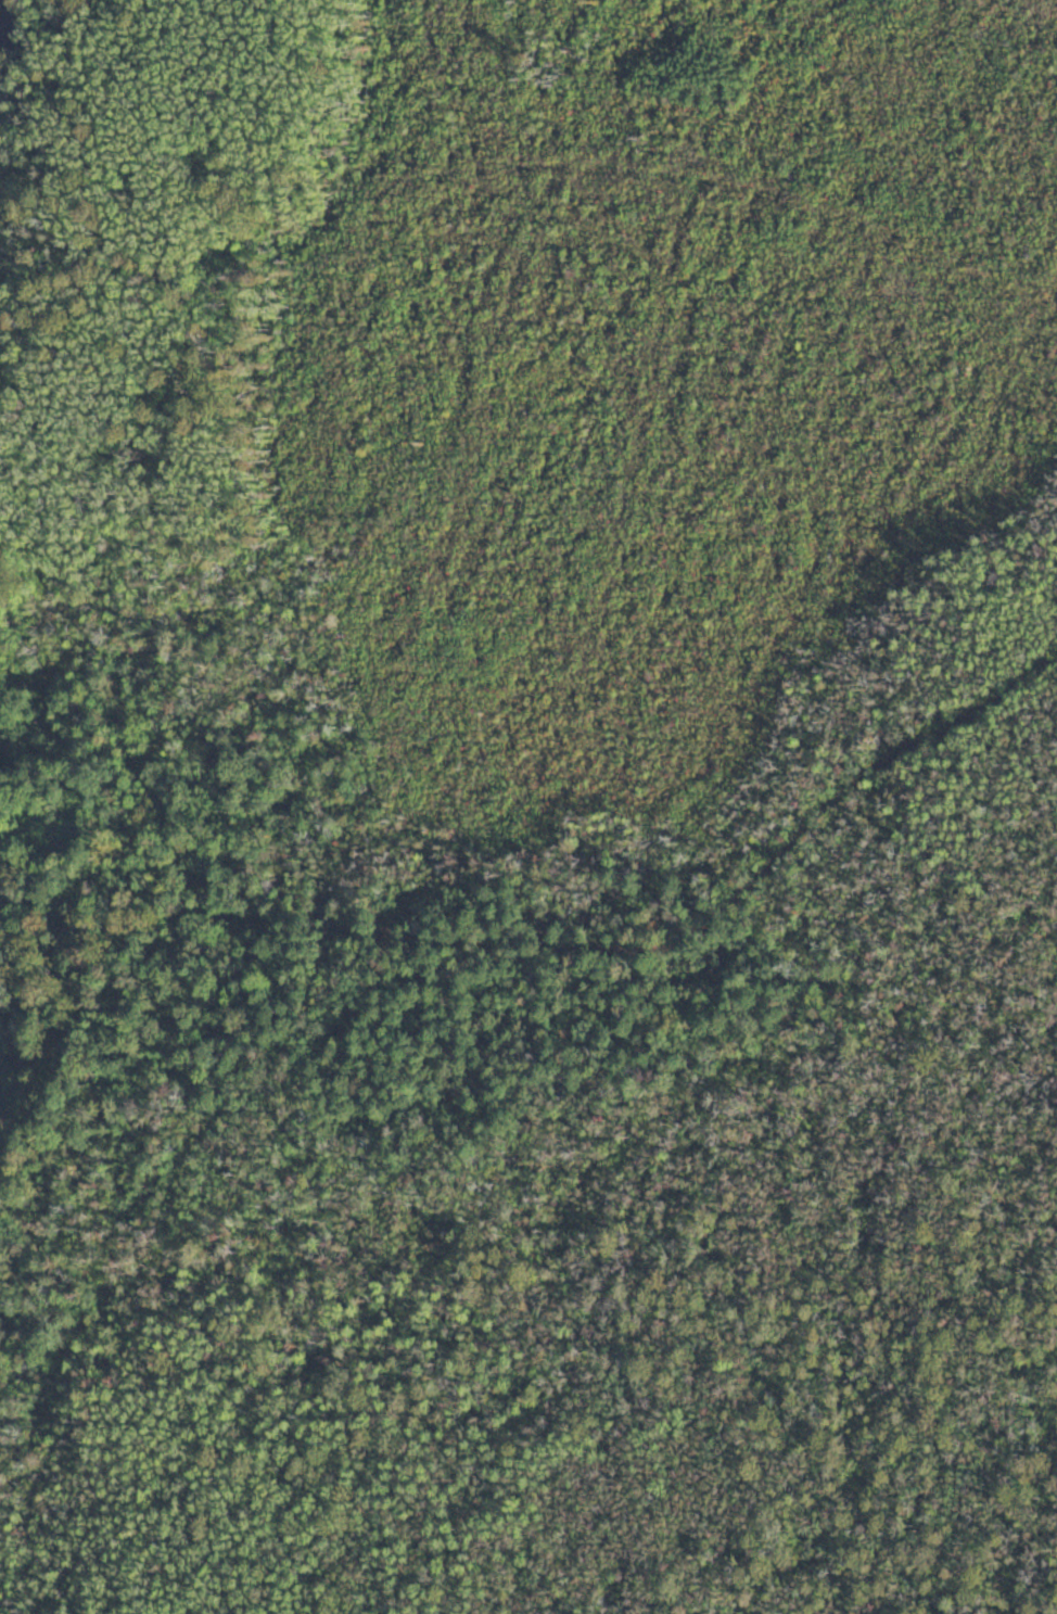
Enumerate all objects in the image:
wastewater plant: (0, 901)

